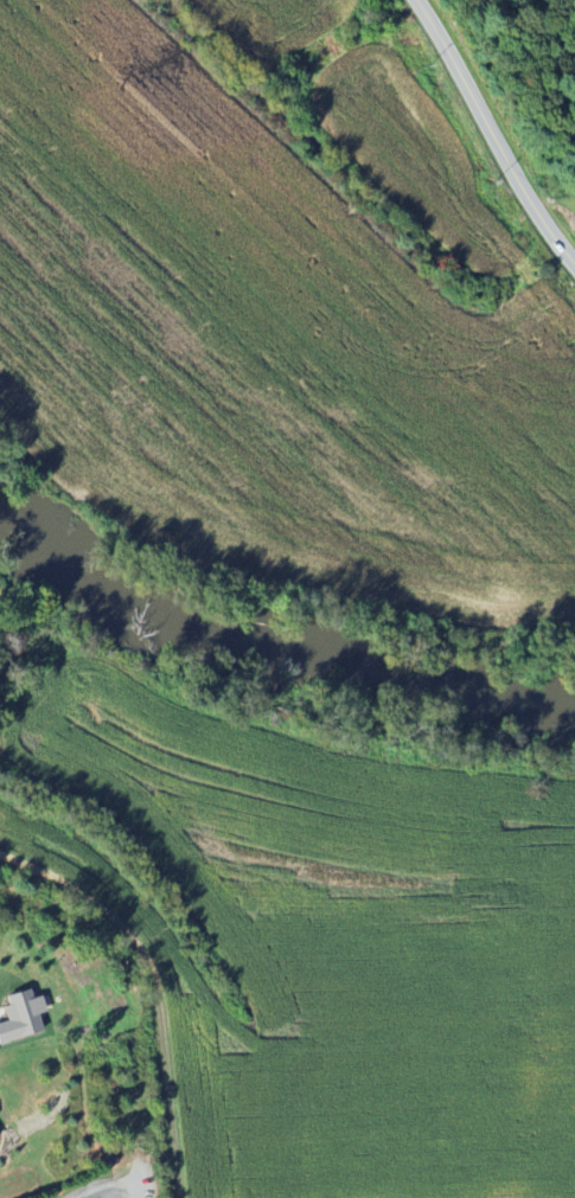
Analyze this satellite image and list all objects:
road: (492, 133)
river: (271, 639)
building: (19, 1014)
road: (104, 1186)

